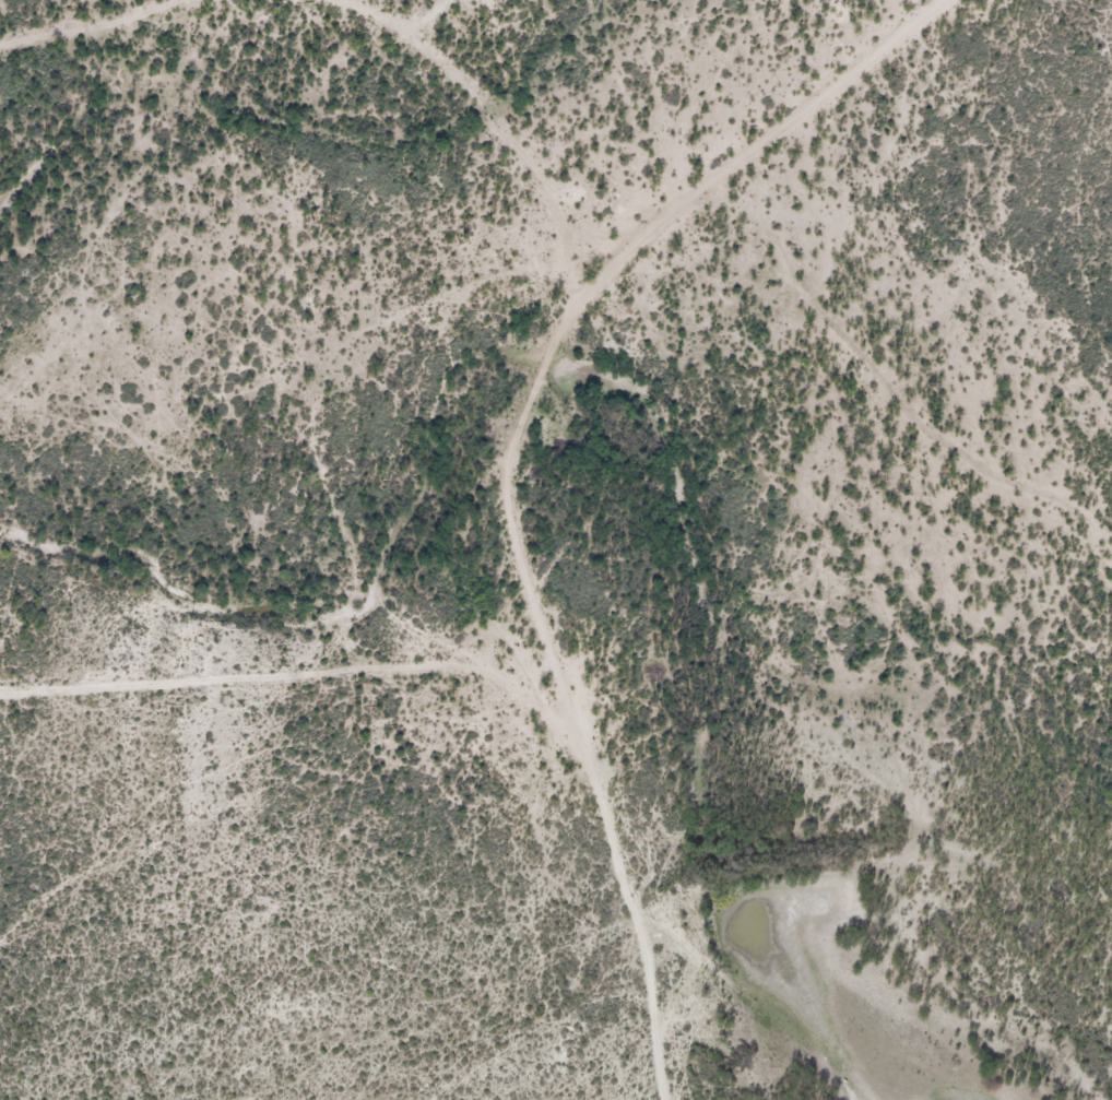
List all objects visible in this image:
road: (86, 21)
road: (499, 122)
road: (516, 471)

